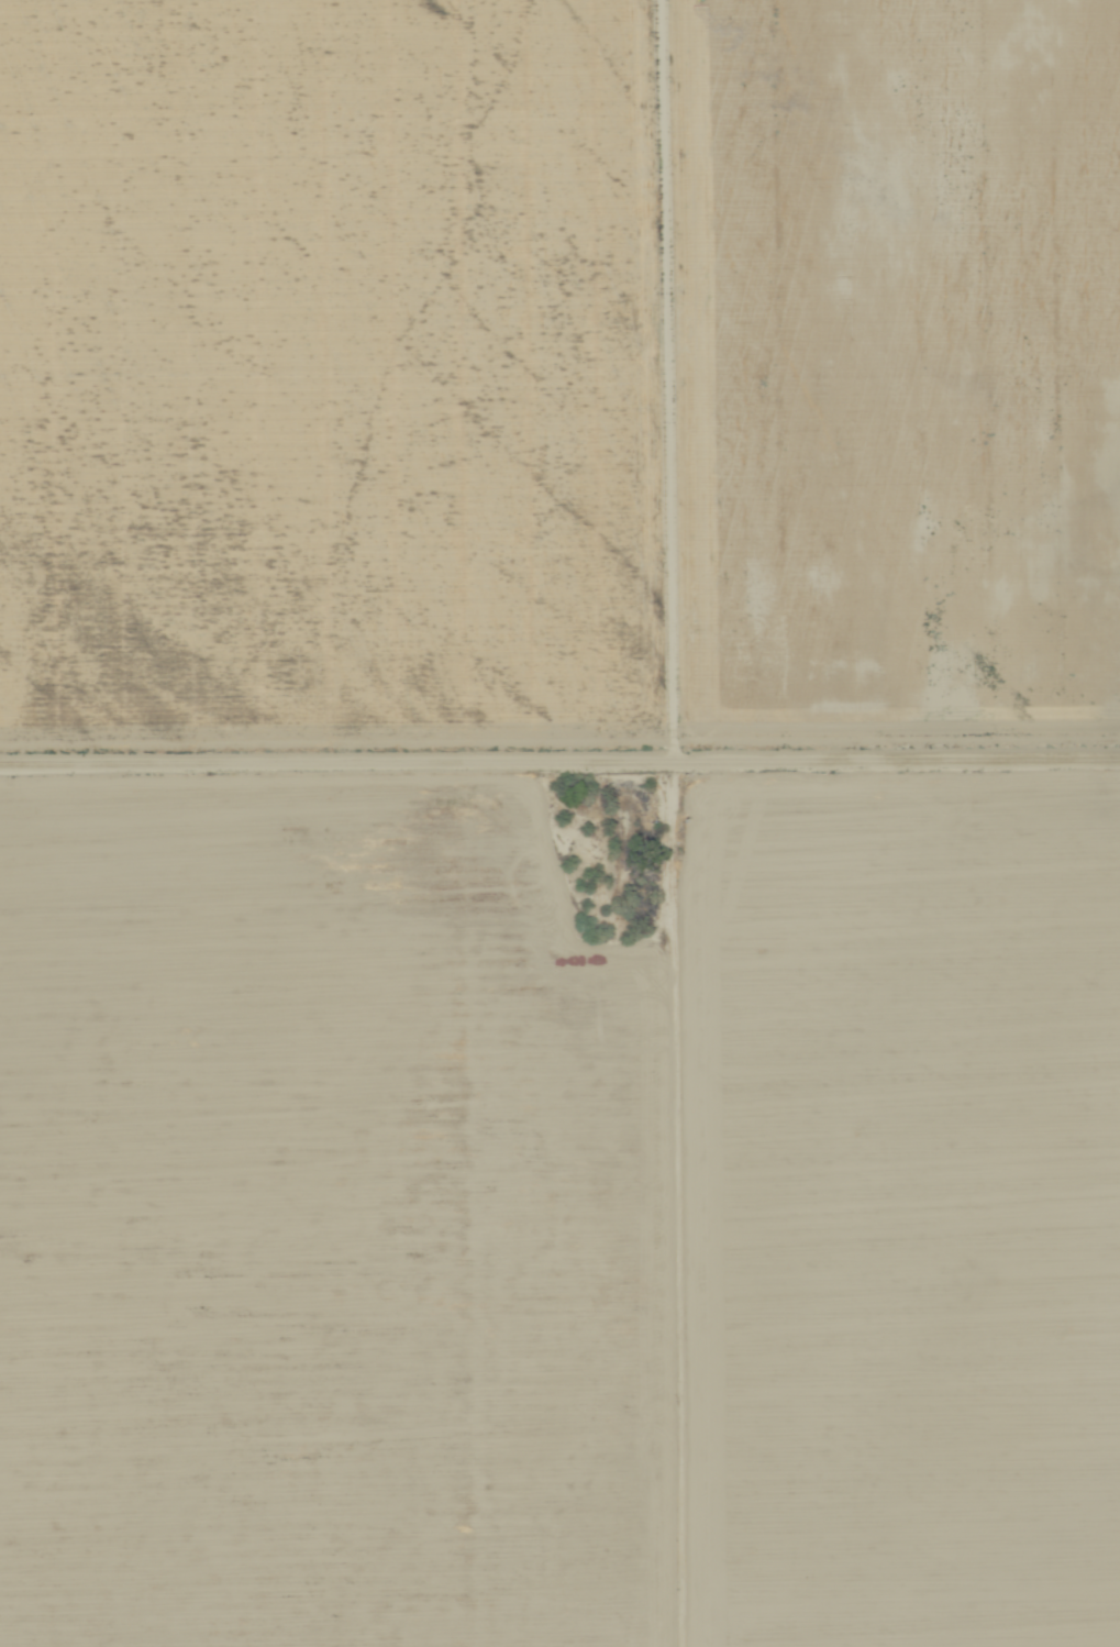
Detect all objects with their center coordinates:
road: (559, 769)
road: (677, 820)

